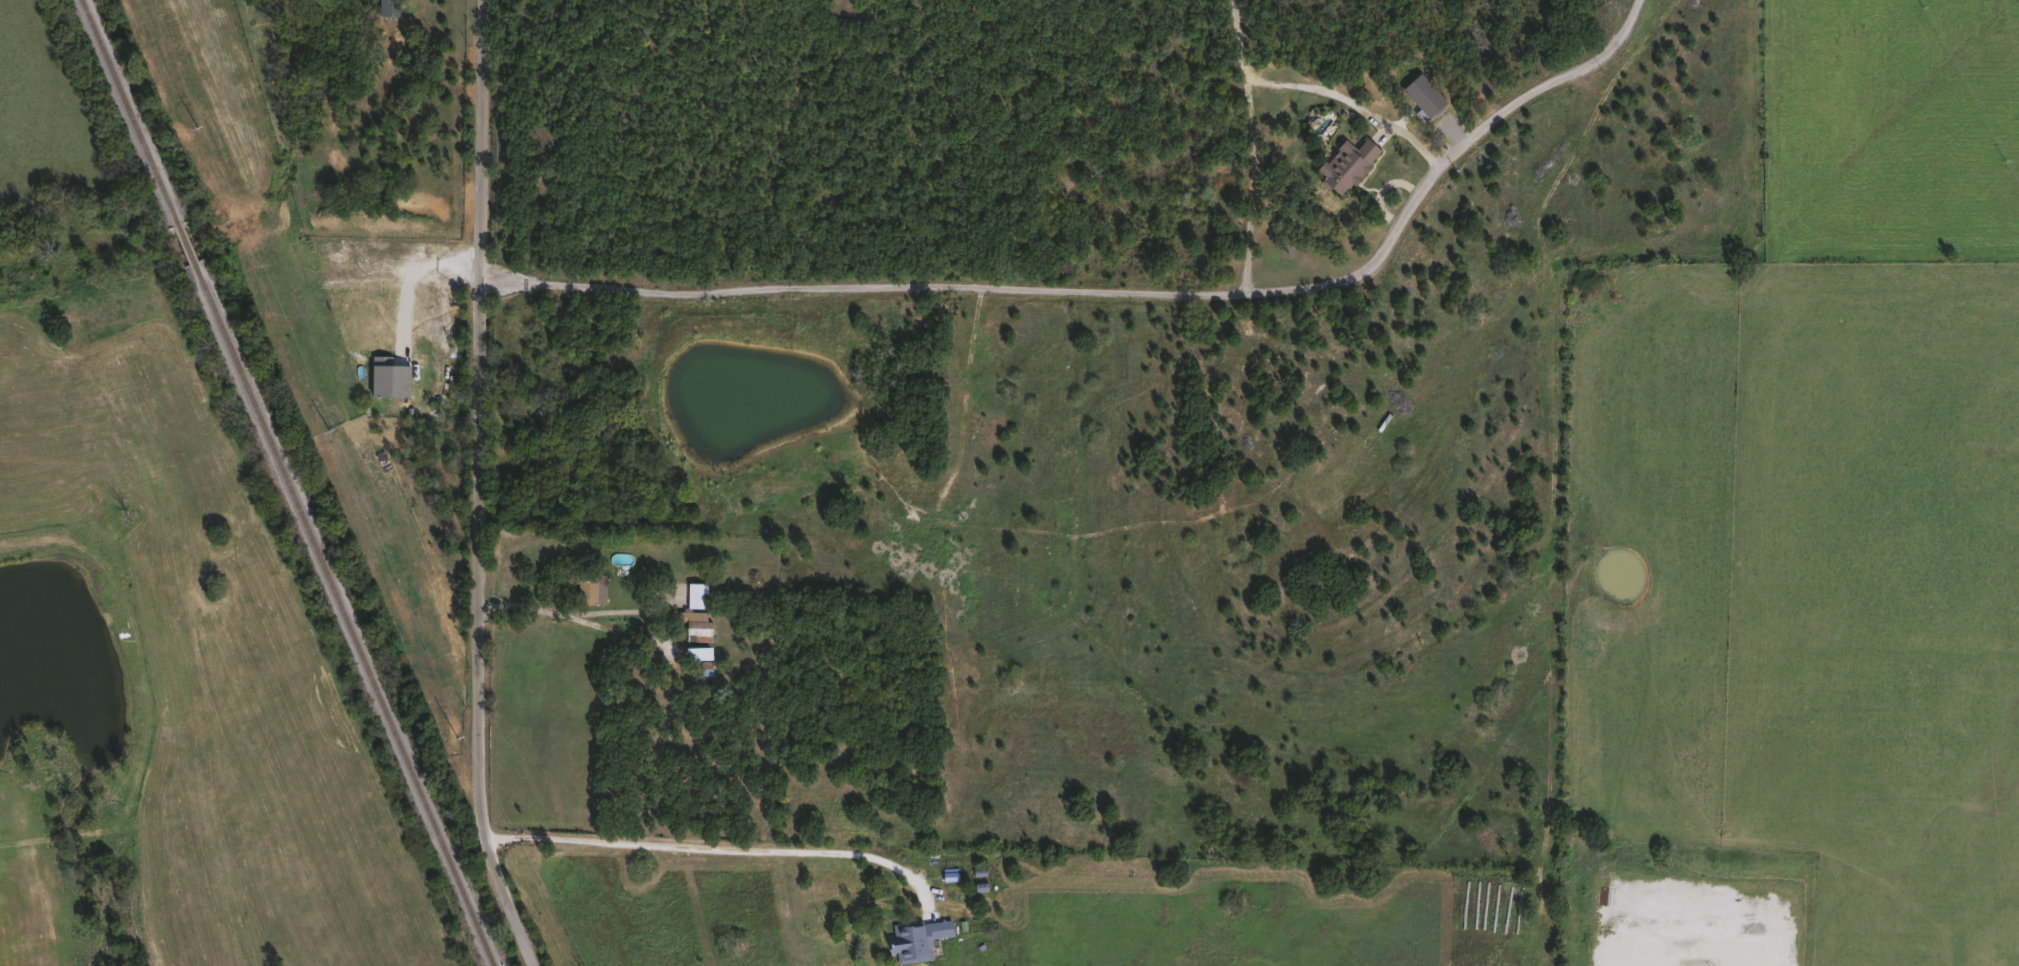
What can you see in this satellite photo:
road: (1315, 90)
building: (1345, 163)
road: (1253, 187)
road: (1123, 293)
railway: (287, 482)
road: (486, 487)
building: (589, 588)
building: (695, 594)
building: (696, 625)
road: (629, 634)
road: (716, 848)
building: (914, 938)

